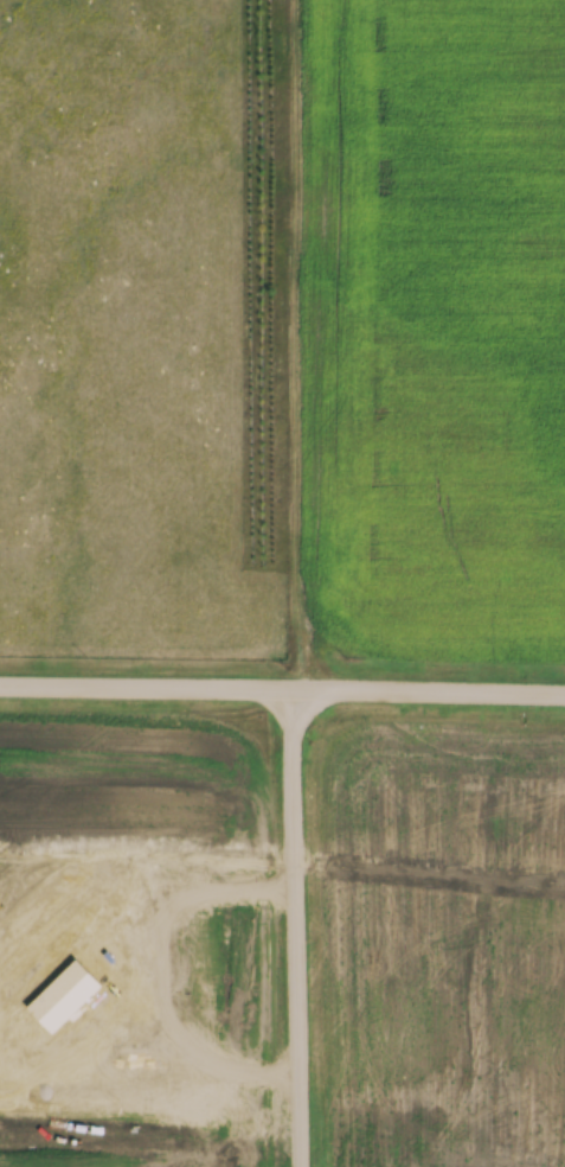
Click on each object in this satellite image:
road: (282, 690)
road: (297, 929)

